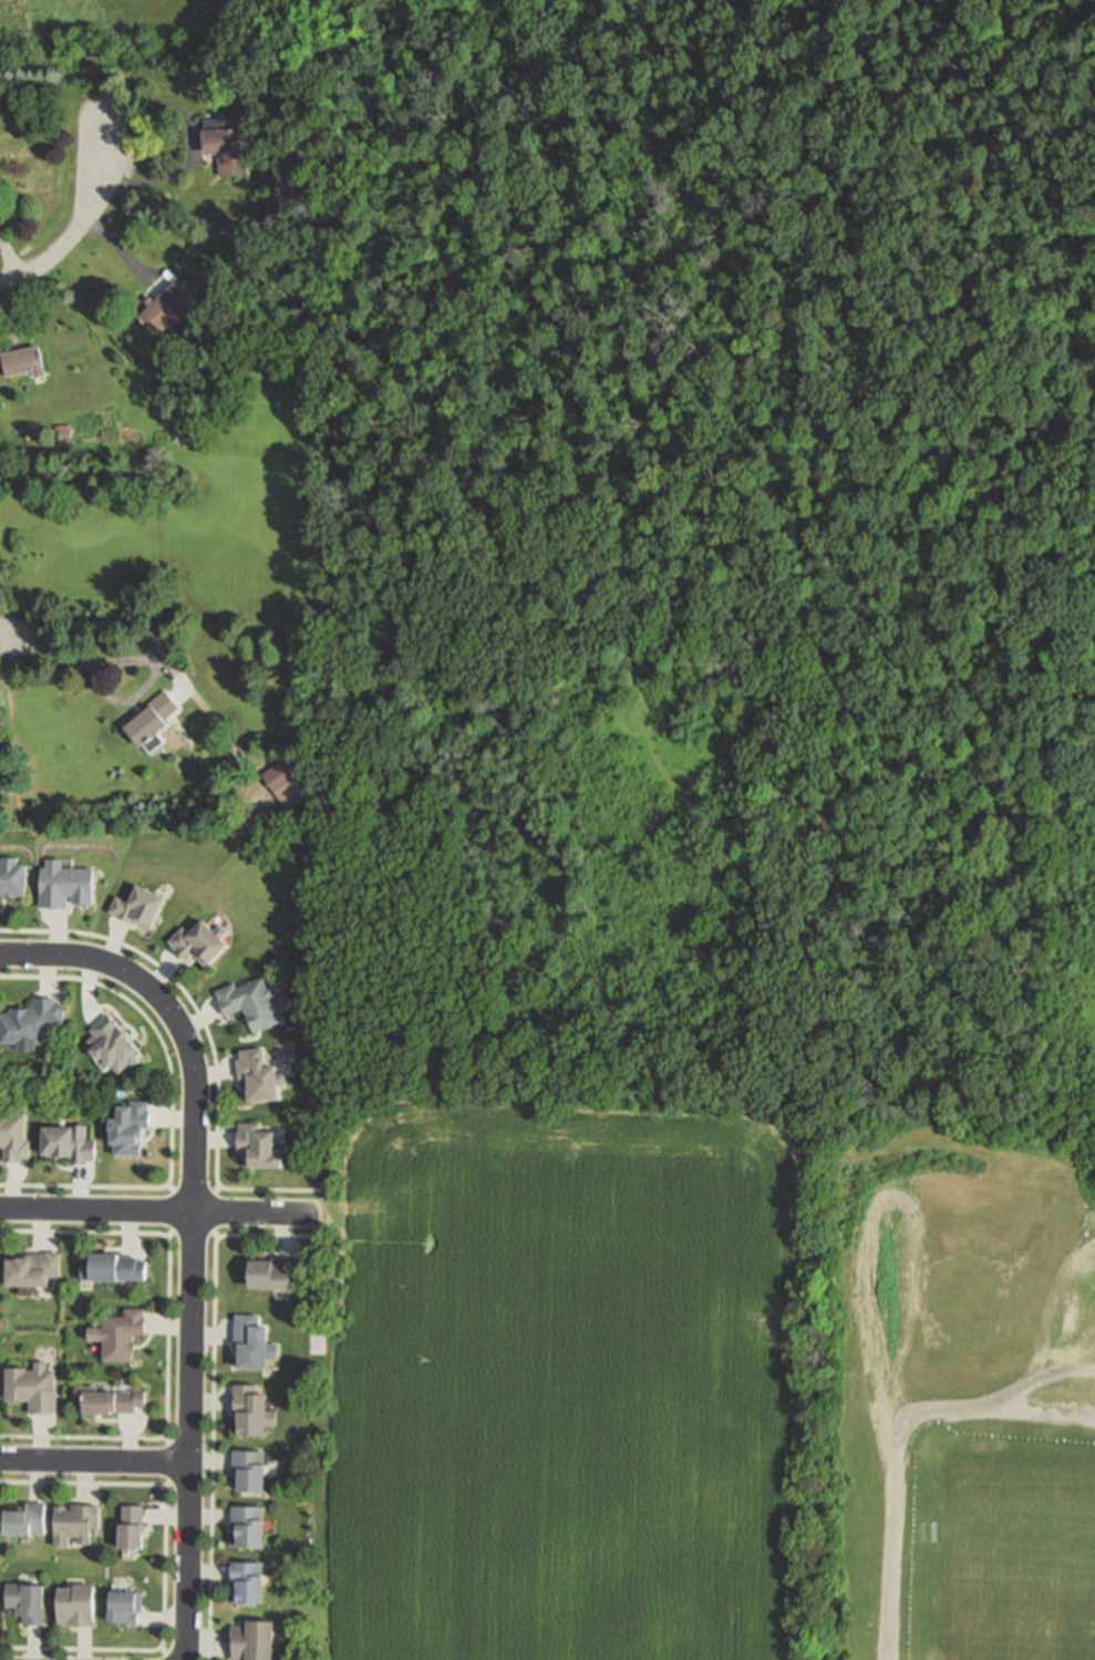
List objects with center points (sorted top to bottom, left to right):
building: (226, 146)
road: (192, 151)
road: (80, 226)
building: (167, 306)
building: (23, 360)
road: (3, 639)
road: (64, 654)
building: (152, 718)
building: (286, 783)
building: (12, 877)
building: (62, 885)
building: (138, 906)
building: (202, 940)
building: (250, 1001)
road: (175, 1017)
building: (31, 1021)
road: (208, 1037)
building: (111, 1044)
building: (259, 1074)
road: (171, 1104)
building: (126, 1126)
building: (13, 1134)
building: (70, 1143)
building: (260, 1145)
road: (169, 1187)
road: (217, 1188)
road: (159, 1209)
road: (168, 1236)
road: (215, 1236)
building: (112, 1267)
building: (30, 1269)
building: (275, 1271)
building: (117, 1334)
road: (167, 1336)
building: (254, 1341)
crop: (568, 1380)
road: (1039, 1382)
park: (952, 1385)
building: (33, 1386)
road: (211, 1398)
building: (107, 1400)
building: (249, 1408)
road: (1040, 1410)
road: (188, 1434)
road: (165, 1440)
road: (208, 1444)
road: (93, 1461)
road: (167, 1463)
building: (249, 1470)
road: (207, 1482)
road: (164, 1486)
road: (896, 1501)
building: (23, 1520)
building: (75, 1523)
building: (248, 1524)
building: (131, 1527)
park: (1013, 1548)
road: (163, 1567)
building: (247, 1581)
building: (27, 1601)
building: (76, 1605)
building: (125, 1608)
building: (252, 1640)
road: (163, 1652)
park: (1005, 1654)

